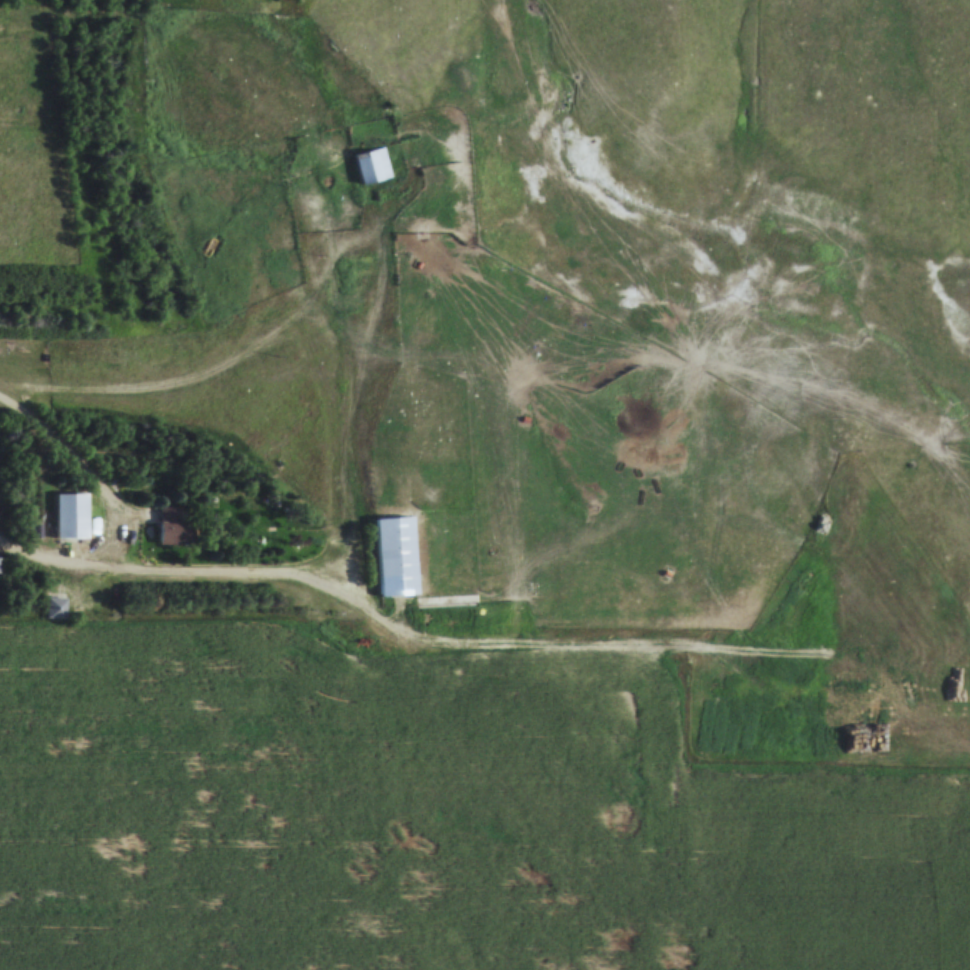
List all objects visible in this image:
building: (372, 167)
building: (362, 265)
building: (71, 516)
building: (173, 525)
building: (395, 556)
building: (54, 608)

